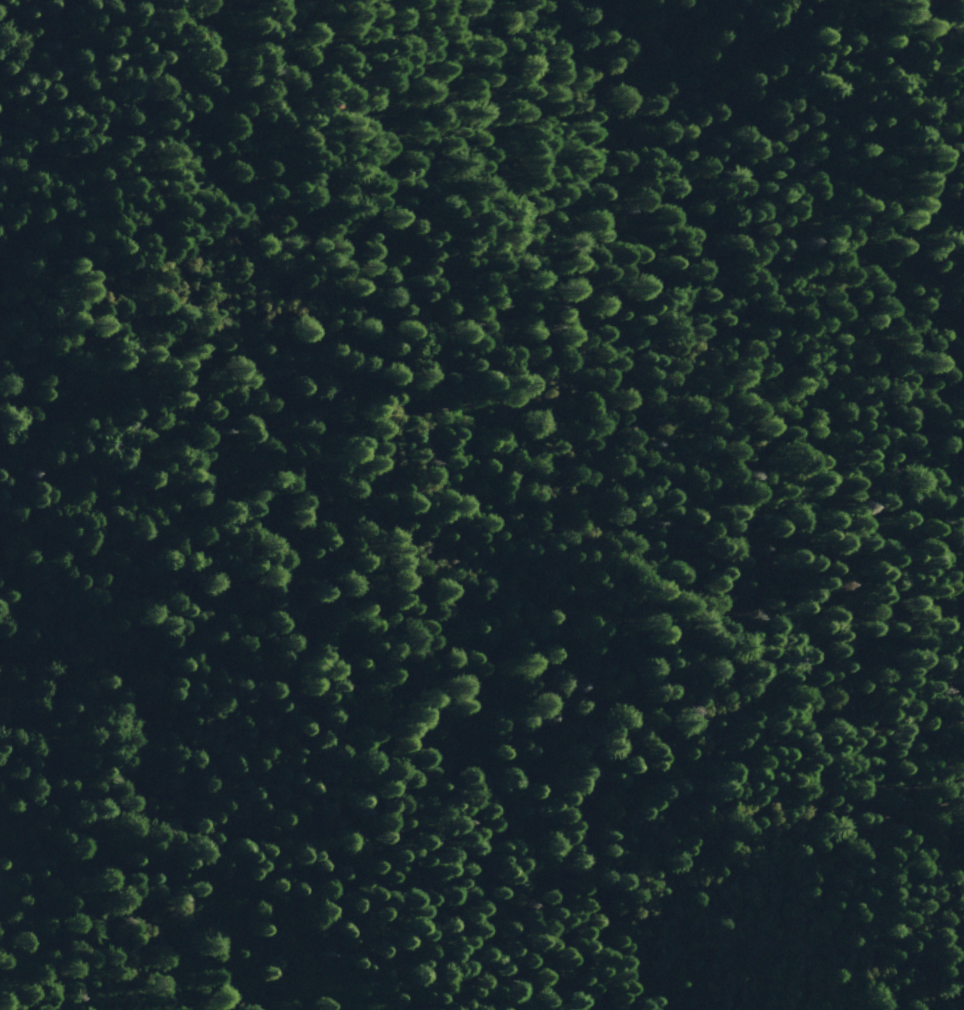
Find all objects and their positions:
road: (785, 567)

